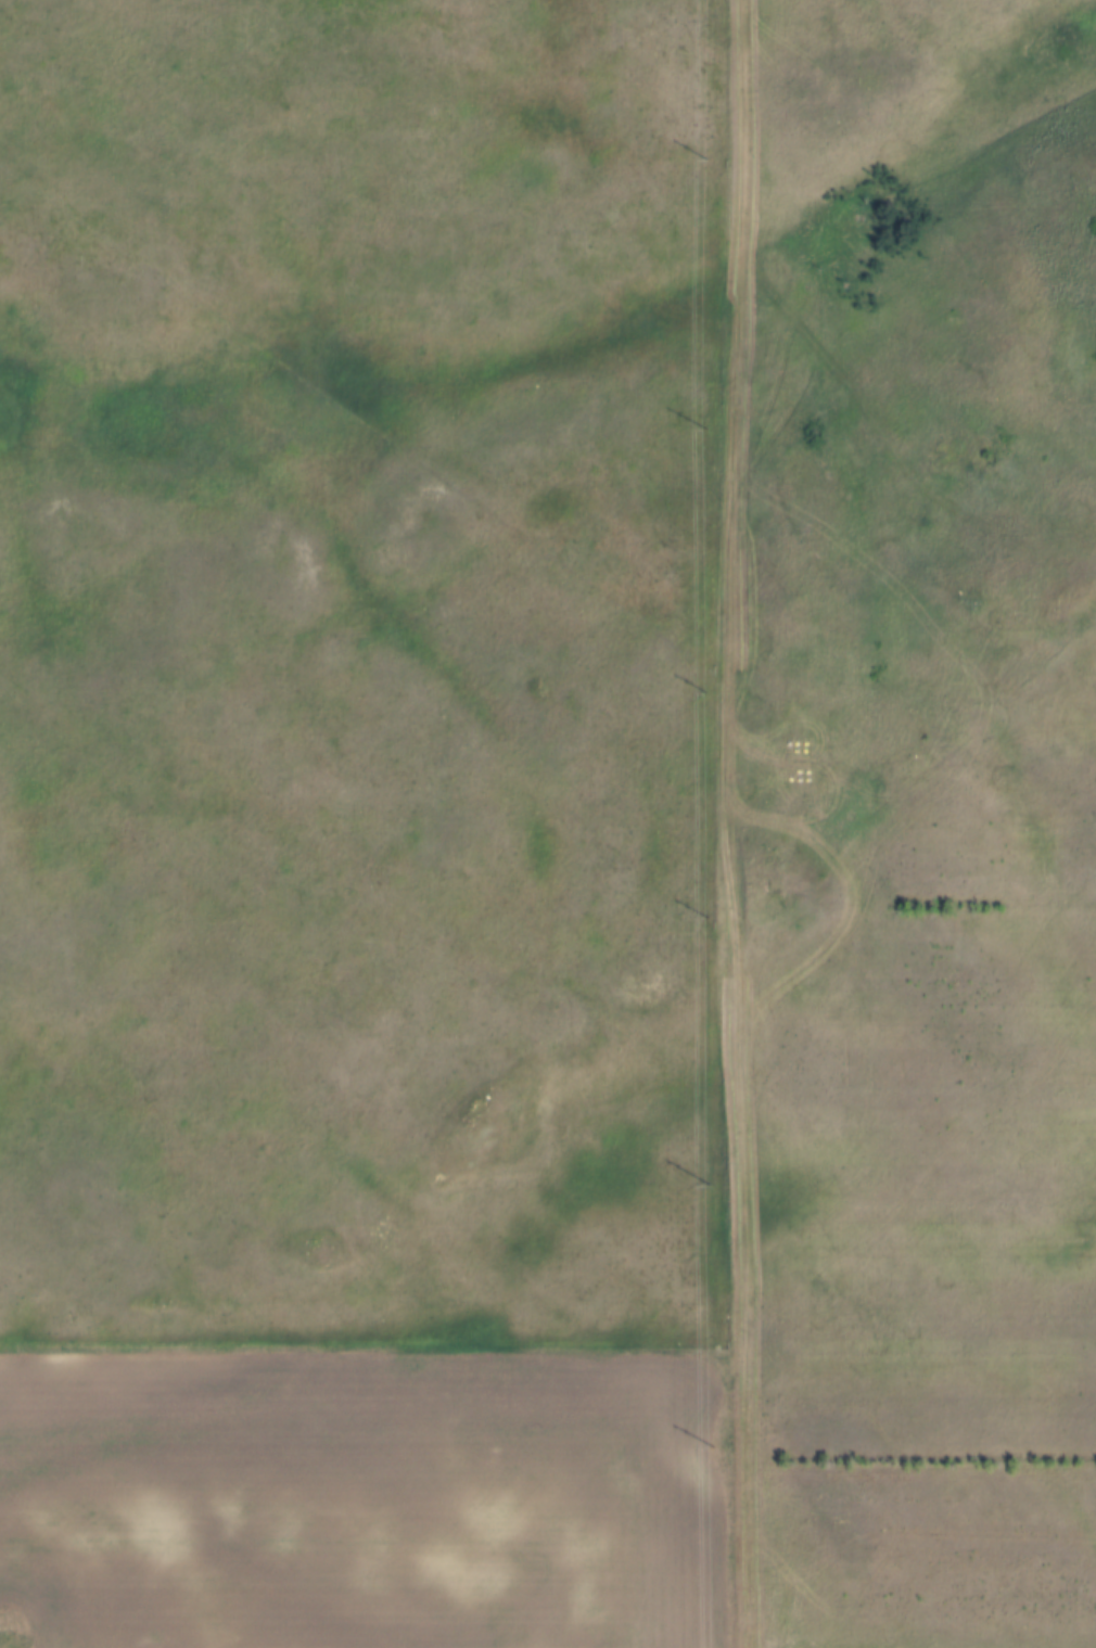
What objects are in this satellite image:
road: (724, 823)

